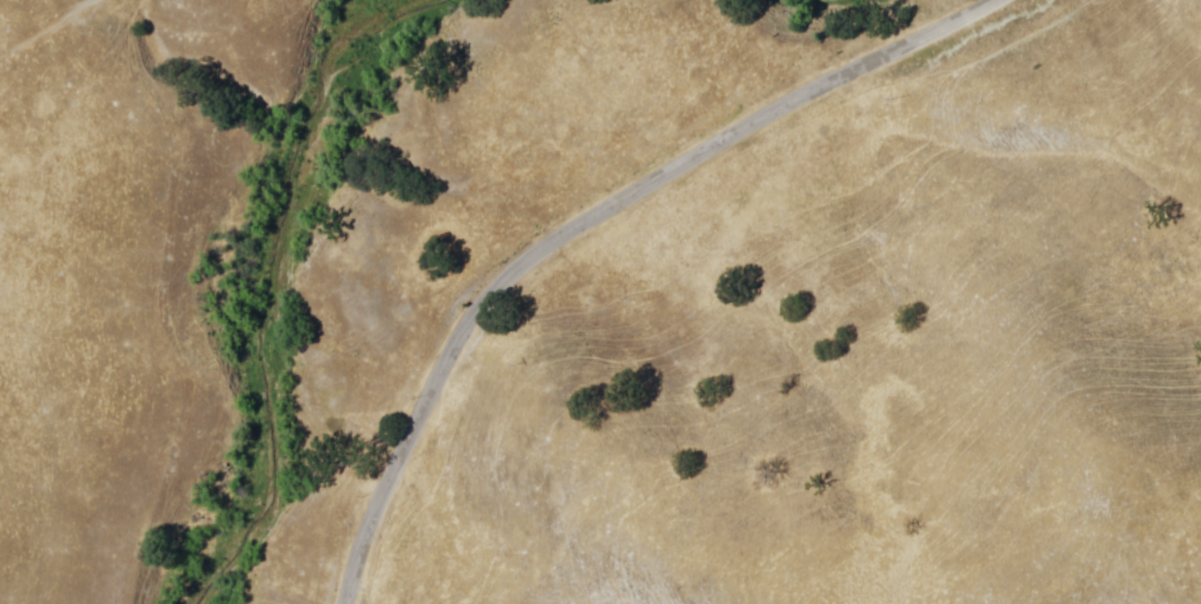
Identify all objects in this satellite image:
road: (583, 222)

